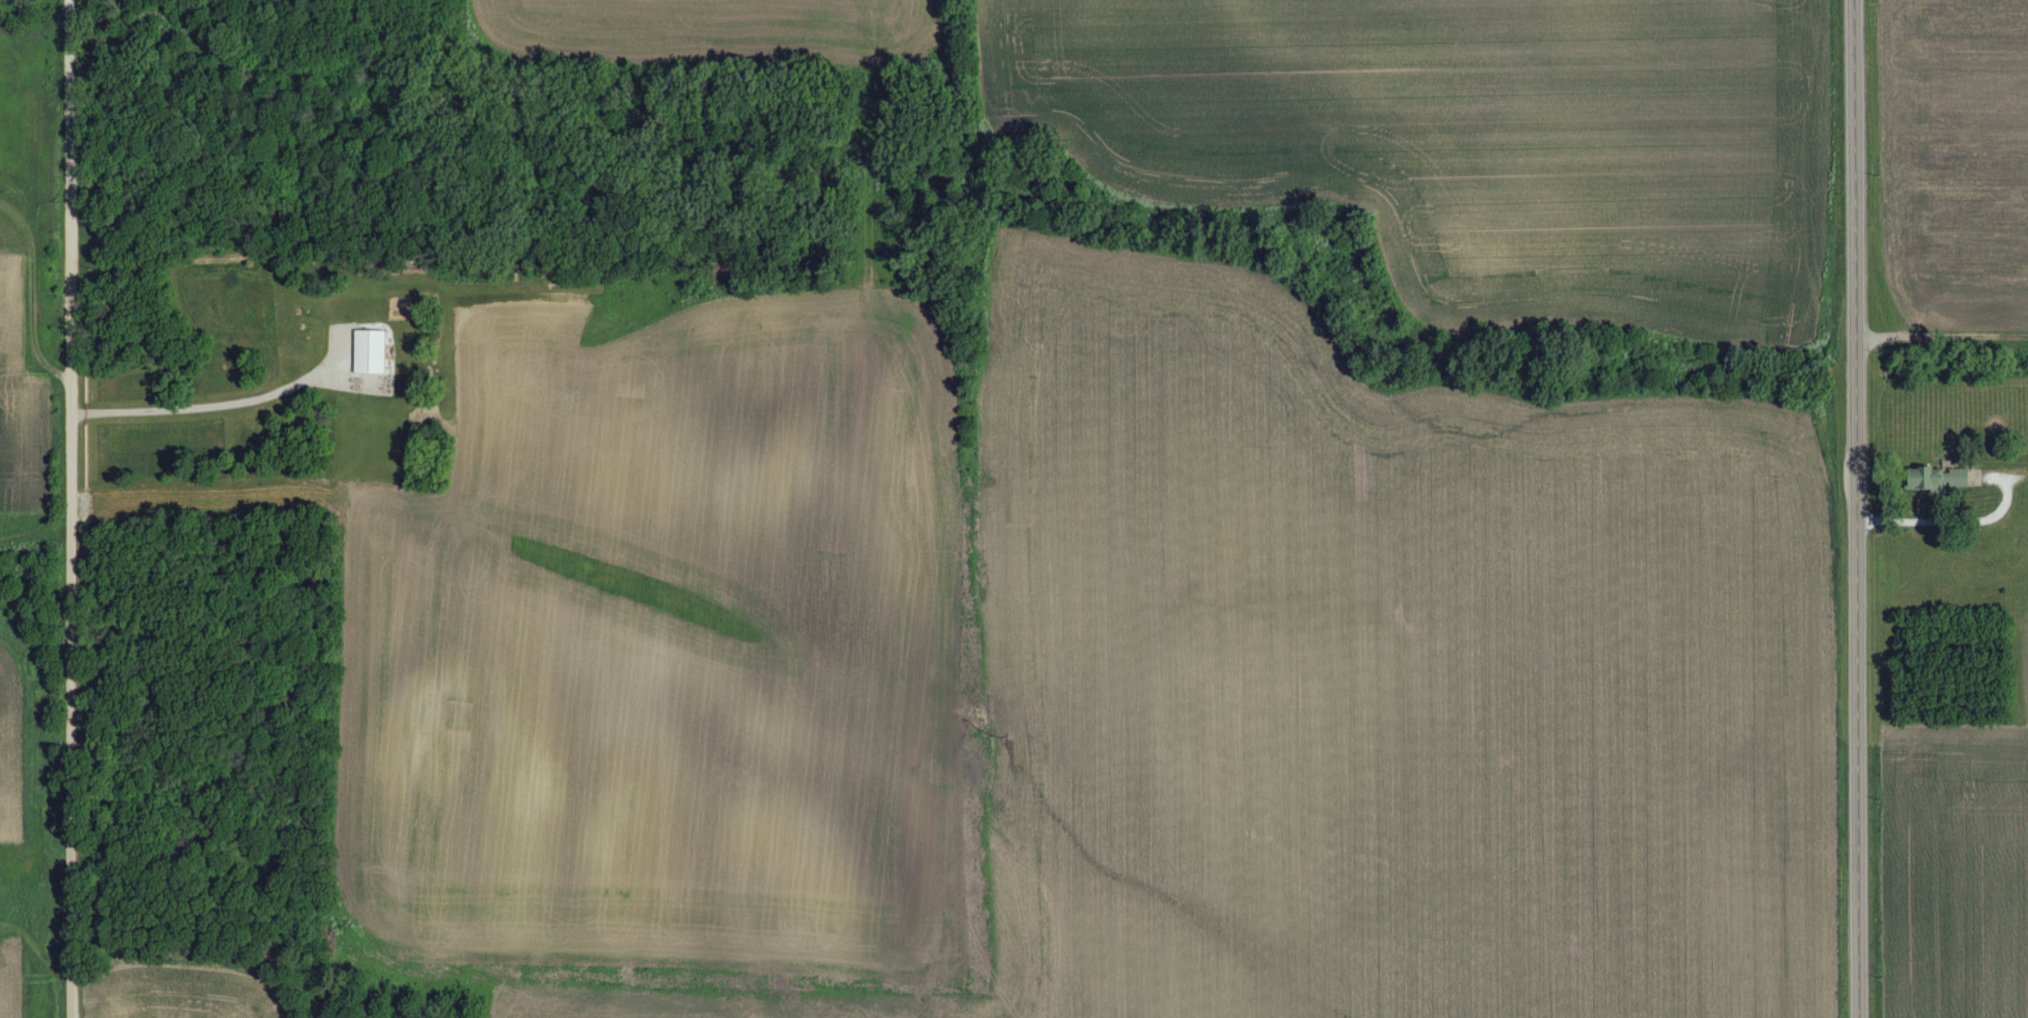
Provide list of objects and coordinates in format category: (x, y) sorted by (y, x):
building: (375, 354)
road: (218, 407)
road: (71, 508)
road: (1858, 508)

